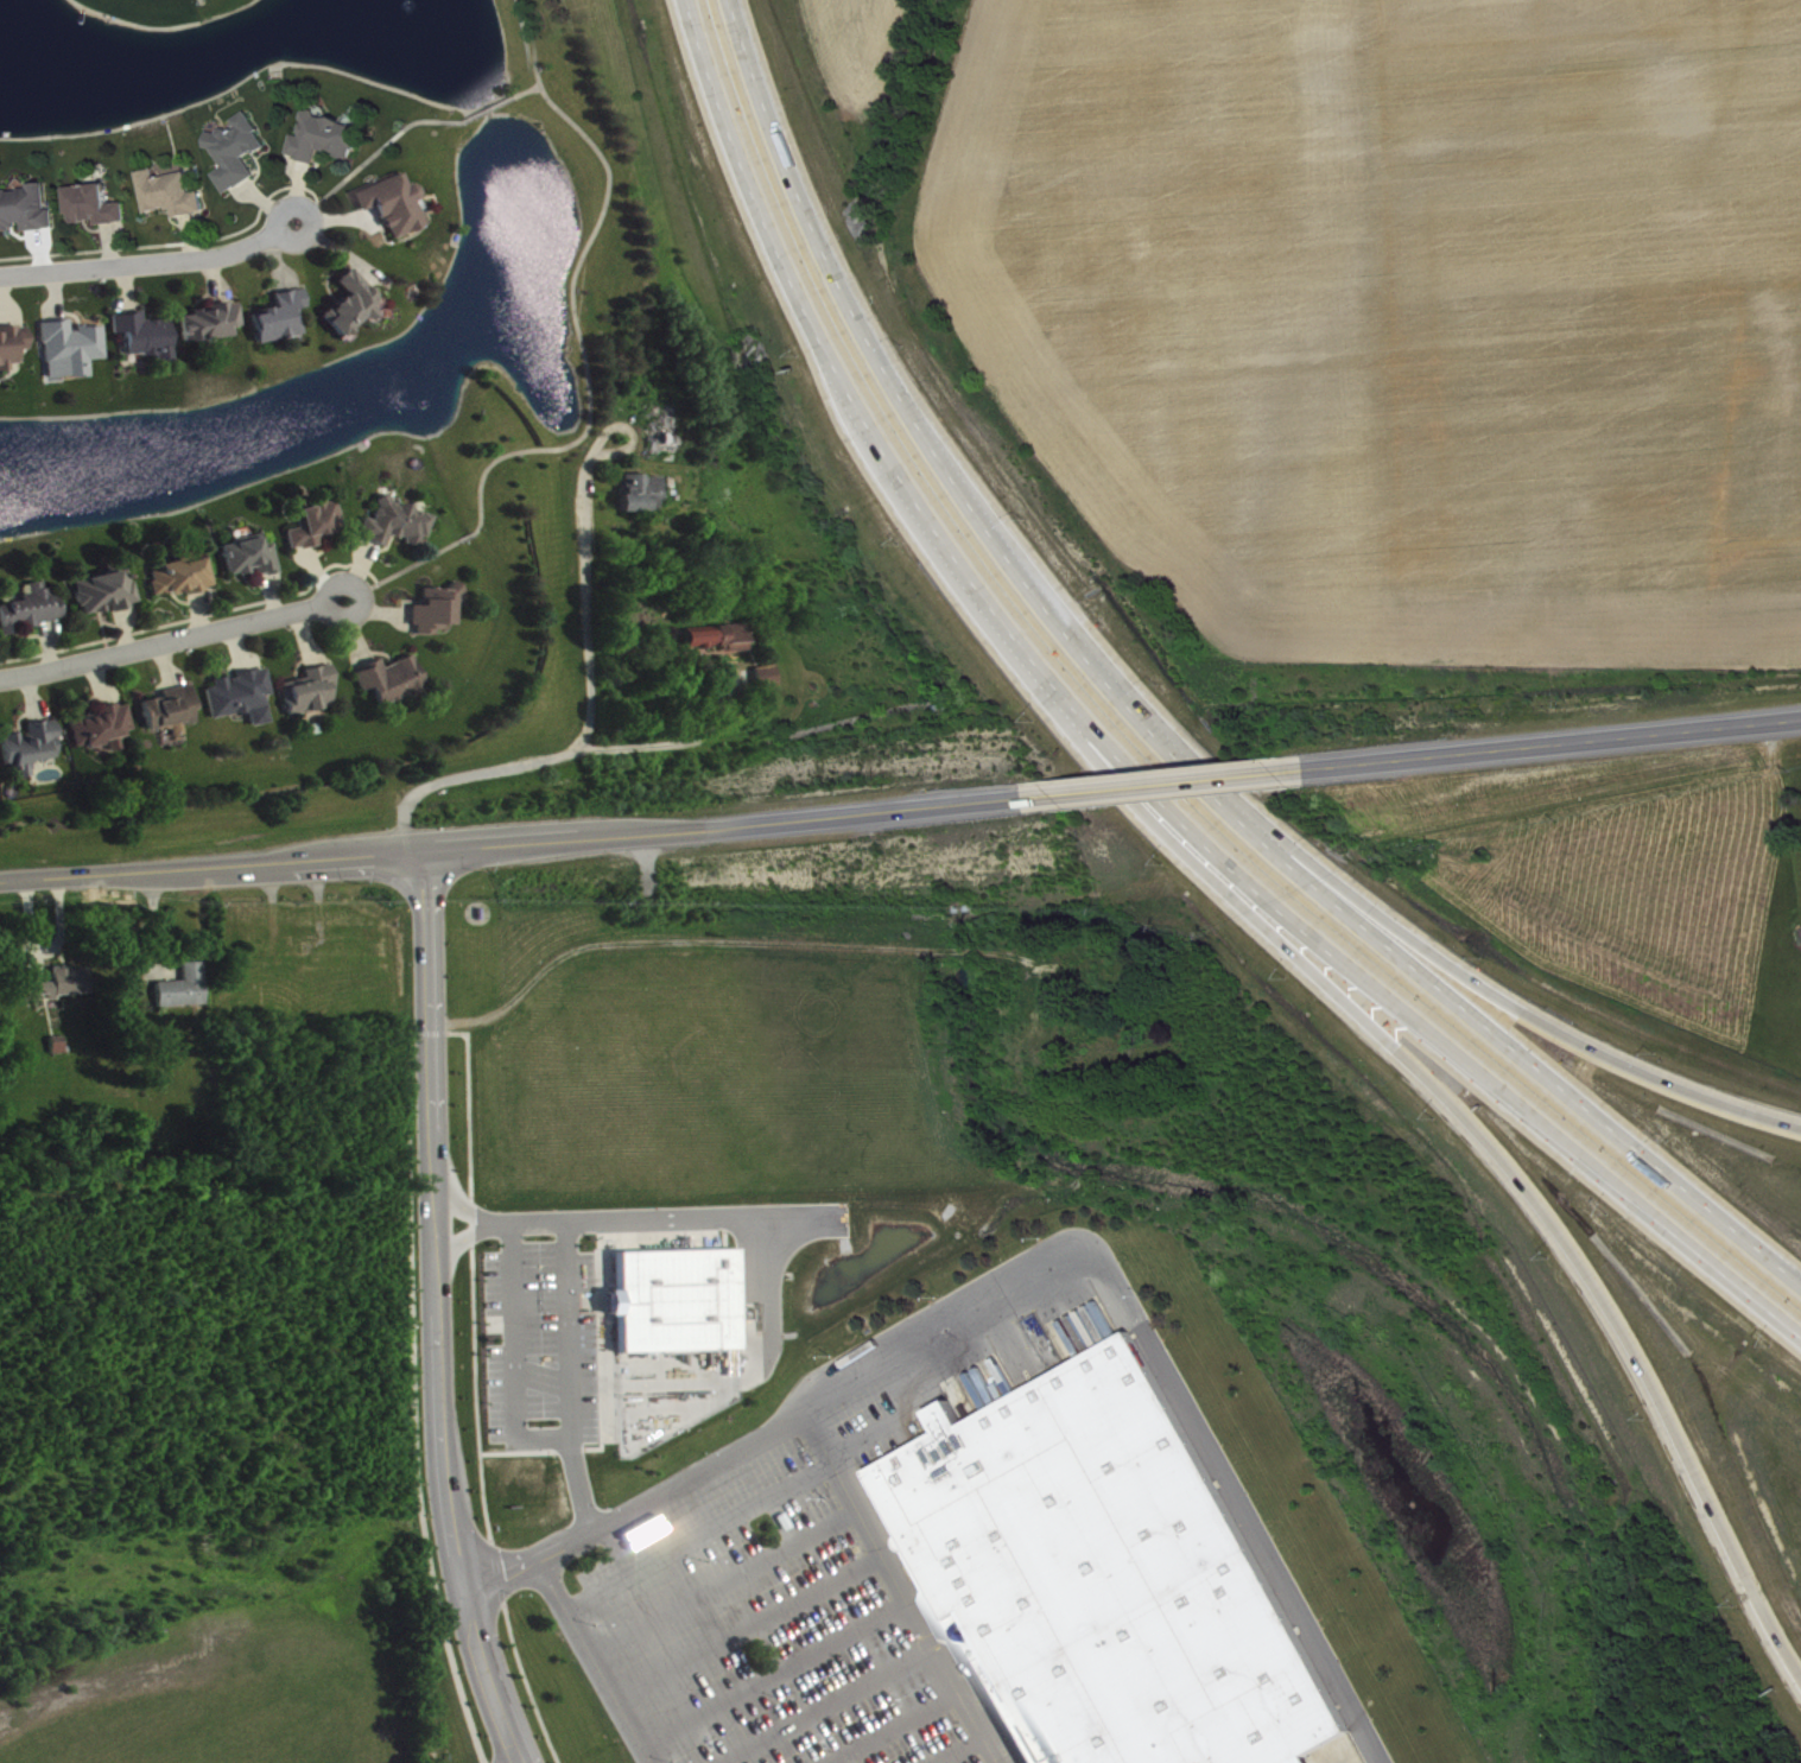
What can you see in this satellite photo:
road: (407, 129)
building: (332, 139)
building: (242, 154)
building: (176, 196)
building: (398, 207)
building: (100, 208)
building: (27, 211)
road: (152, 261)
building: (356, 306)
building: (285, 319)
building: (214, 324)
building: (148, 337)
building: (13, 348)
building: (74, 351)
road: (586, 367)
building: (667, 438)
building: (643, 496)
building: (399, 526)
building: (318, 527)
building: (254, 559)
building: (184, 579)
building: (108, 595)
building: (34, 611)
building: (439, 611)
road: (172, 640)
building: (721, 641)
building: (628, 648)
building: (395, 681)
building: (315, 693)
building: (245, 698)
building: (175, 712)
building: (104, 727)
road: (1149, 729)
road: (670, 742)
road: (1555, 742)
road: (576, 744)
building: (32, 750)
road: (1124, 759)
road: (1172, 782)
road: (516, 844)
road: (423, 887)
road: (198, 889)
road: (462, 952)
road: (402, 959)
building: (62, 987)
building: (186, 990)
road: (438, 1030)
road: (1580, 1036)
road: (657, 1220)
road: (1554, 1224)
building: (673, 1298)
road: (442, 1313)
road: (567, 1331)
road: (513, 1370)
road: (1184, 1401)
road: (687, 1477)
road: (736, 1514)
building: (1103, 1578)
road: (723, 1579)
road: (899, 1587)
parking lot: (773, 1598)
road: (749, 1625)
road: (596, 1661)
road: (774, 1673)
road: (825, 1705)
road: (893, 1727)
road: (957, 1749)

